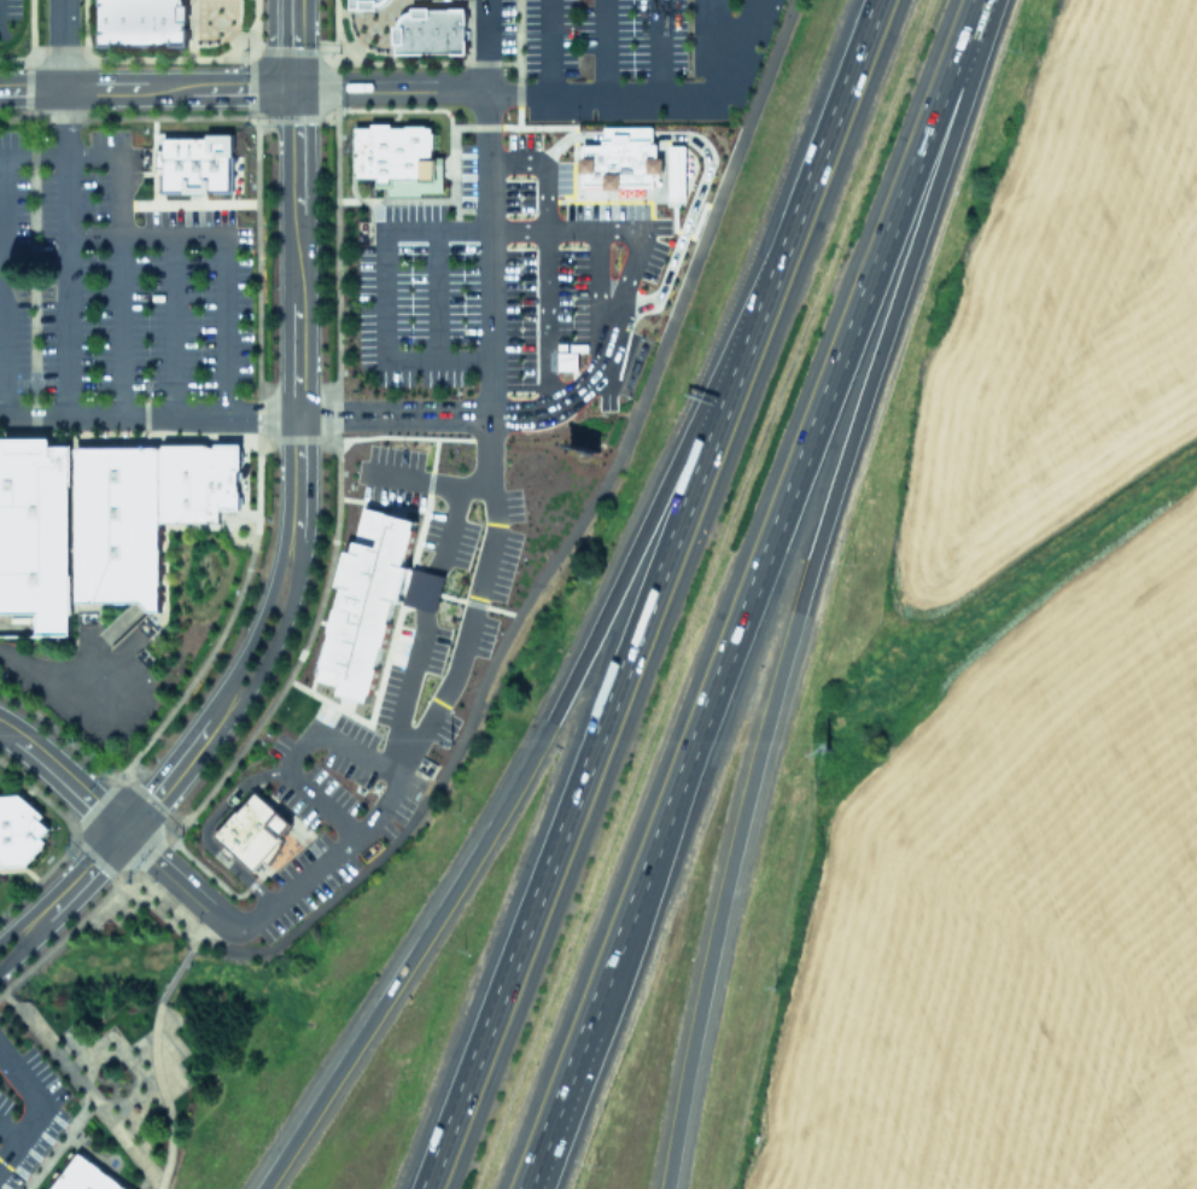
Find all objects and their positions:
building: (362, 2)
parking lot: (8, 8)
building: (139, 22)
building: (430, 30)
road: (293, 43)
road: (484, 45)
road: (602, 47)
road: (658, 47)
road: (714, 47)
road: (734, 47)
road: (550, 48)
parking lot: (633, 54)
traffic signals: (294, 88)
road: (147, 89)
road: (504, 92)
road: (636, 129)
road: (567, 132)
road: (823, 141)
building: (627, 151)
building: (395, 157)
building: (192, 162)
building: (684, 164)
road: (65, 209)
road: (688, 221)
road: (119, 226)
road: (226, 245)
road: (638, 247)
road: (545, 257)
parking lot: (497, 274)
parking lot: (112, 276)
road: (2, 286)
road: (378, 292)
road: (434, 292)
road: (606, 305)
road: (296, 317)
road: (173, 326)
road: (408, 419)
road: (487, 451)
road: (414, 480)
building: (98, 518)
road: (773, 531)
road: (560, 548)
road: (802, 587)
building: (362, 602)
road: (475, 604)
road: (256, 625)
road: (275, 634)
road: (53, 671)
crop: (1039, 722)
road: (597, 735)
road: (300, 744)
road: (536, 746)
road: (175, 770)
road: (63, 777)
parking lot: (323, 815)
road: (205, 826)
building: (18, 827)
building: (253, 827)
traffic signals: (125, 832)
road: (110, 870)
road: (170, 873)
road: (84, 875)
road: (165, 902)
road: (19, 927)
road: (223, 943)
road: (25, 948)
road: (174, 974)
road: (18, 1009)
park: (135, 1013)
road: (156, 1088)
road: (160, 1094)
road: (30, 1106)
parking lot: (27, 1112)
road: (547, 1125)
road: (554, 1125)
road: (8, 1131)
building: (84, 1176)

